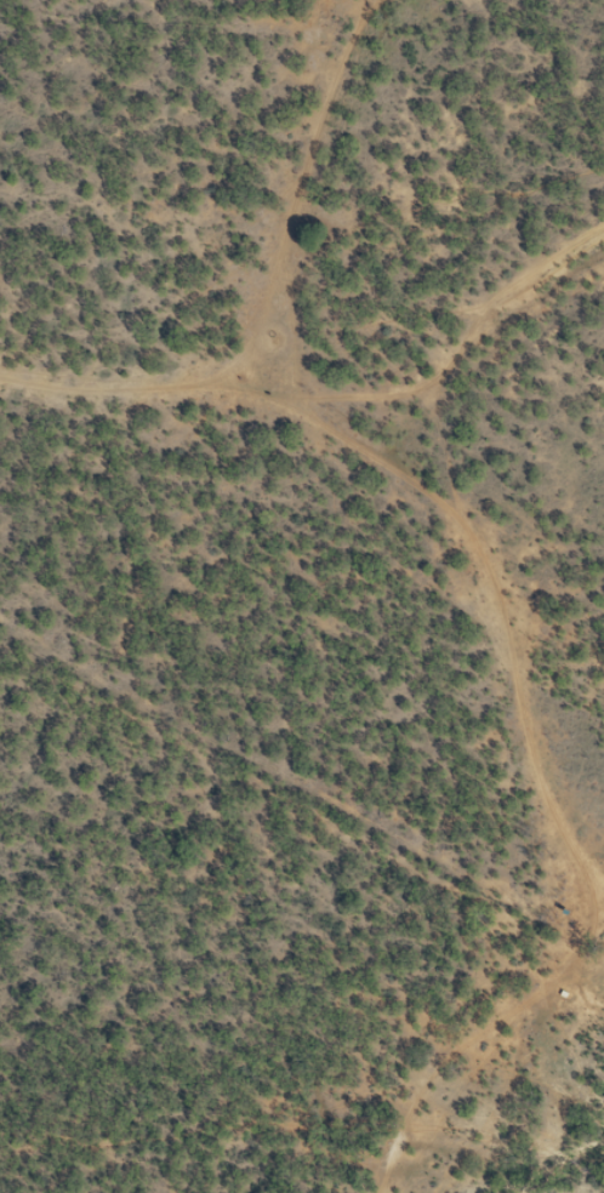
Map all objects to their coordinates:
road: (172, 409)
road: (448, 565)
road: (585, 999)

